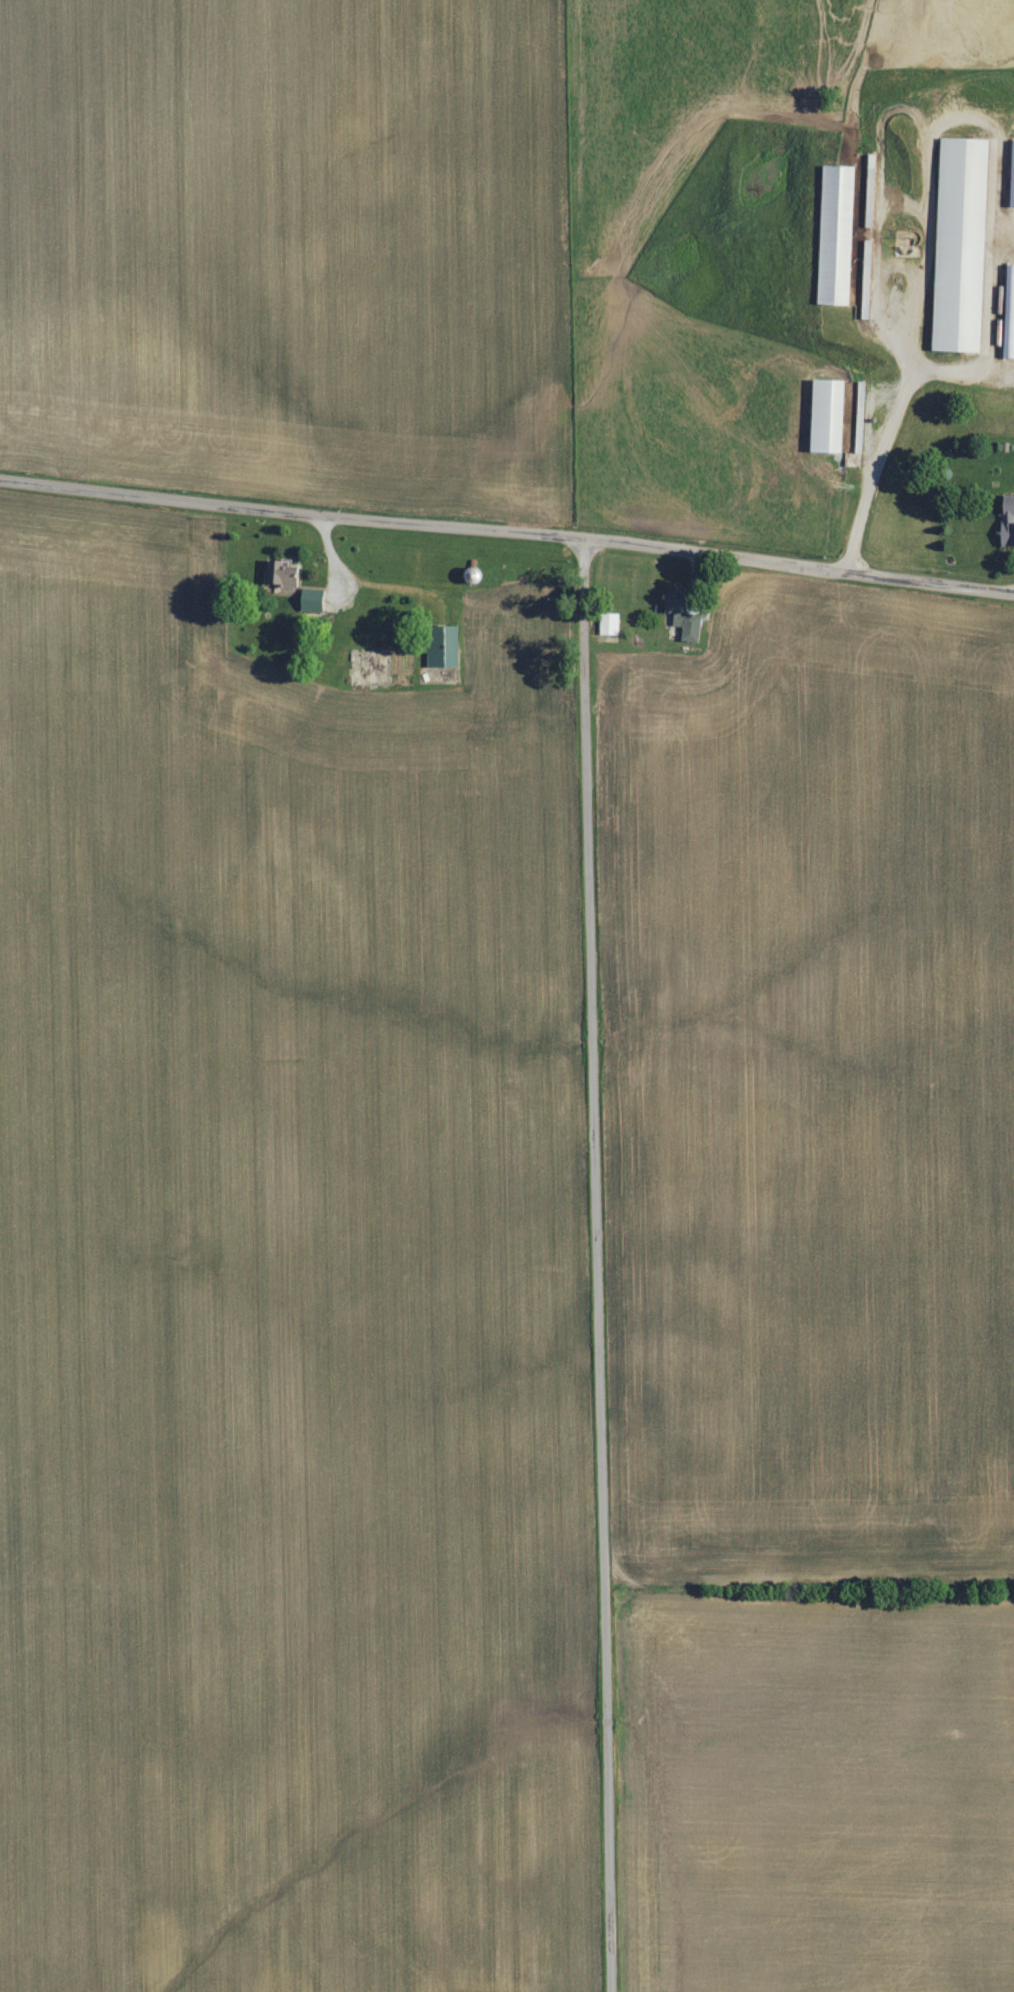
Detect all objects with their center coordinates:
building: (1012, 177)
building: (837, 235)
building: (962, 245)
building: (1010, 314)
road: (897, 414)
building: (829, 416)
building: (1009, 521)
road: (507, 529)
building: (285, 576)
building: (312, 598)
building: (685, 616)
building: (610, 624)
building: (445, 647)
road: (597, 1265)

